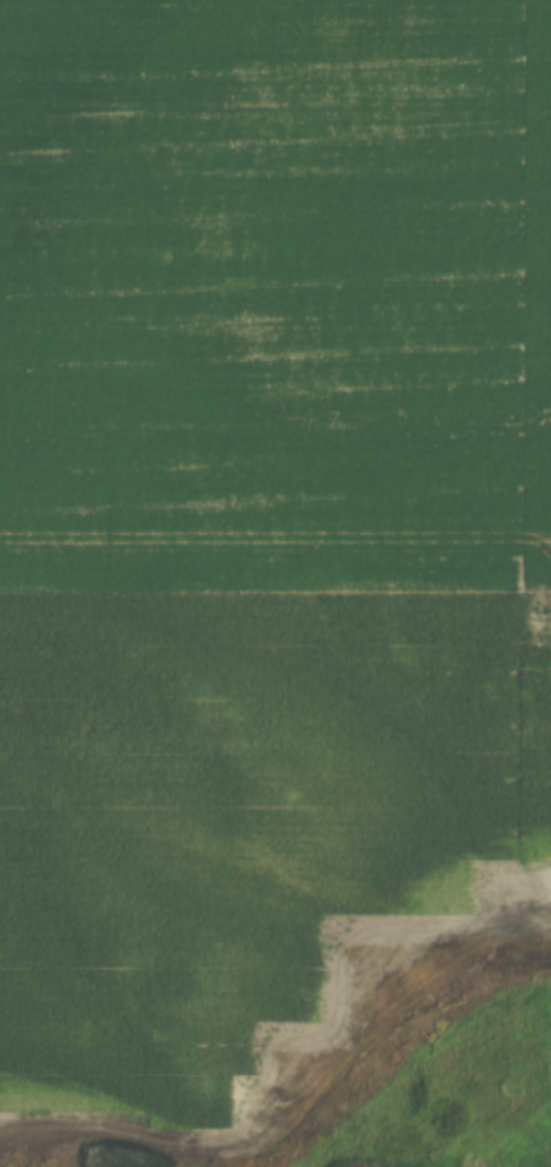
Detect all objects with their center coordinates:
crop: (264, 541)

